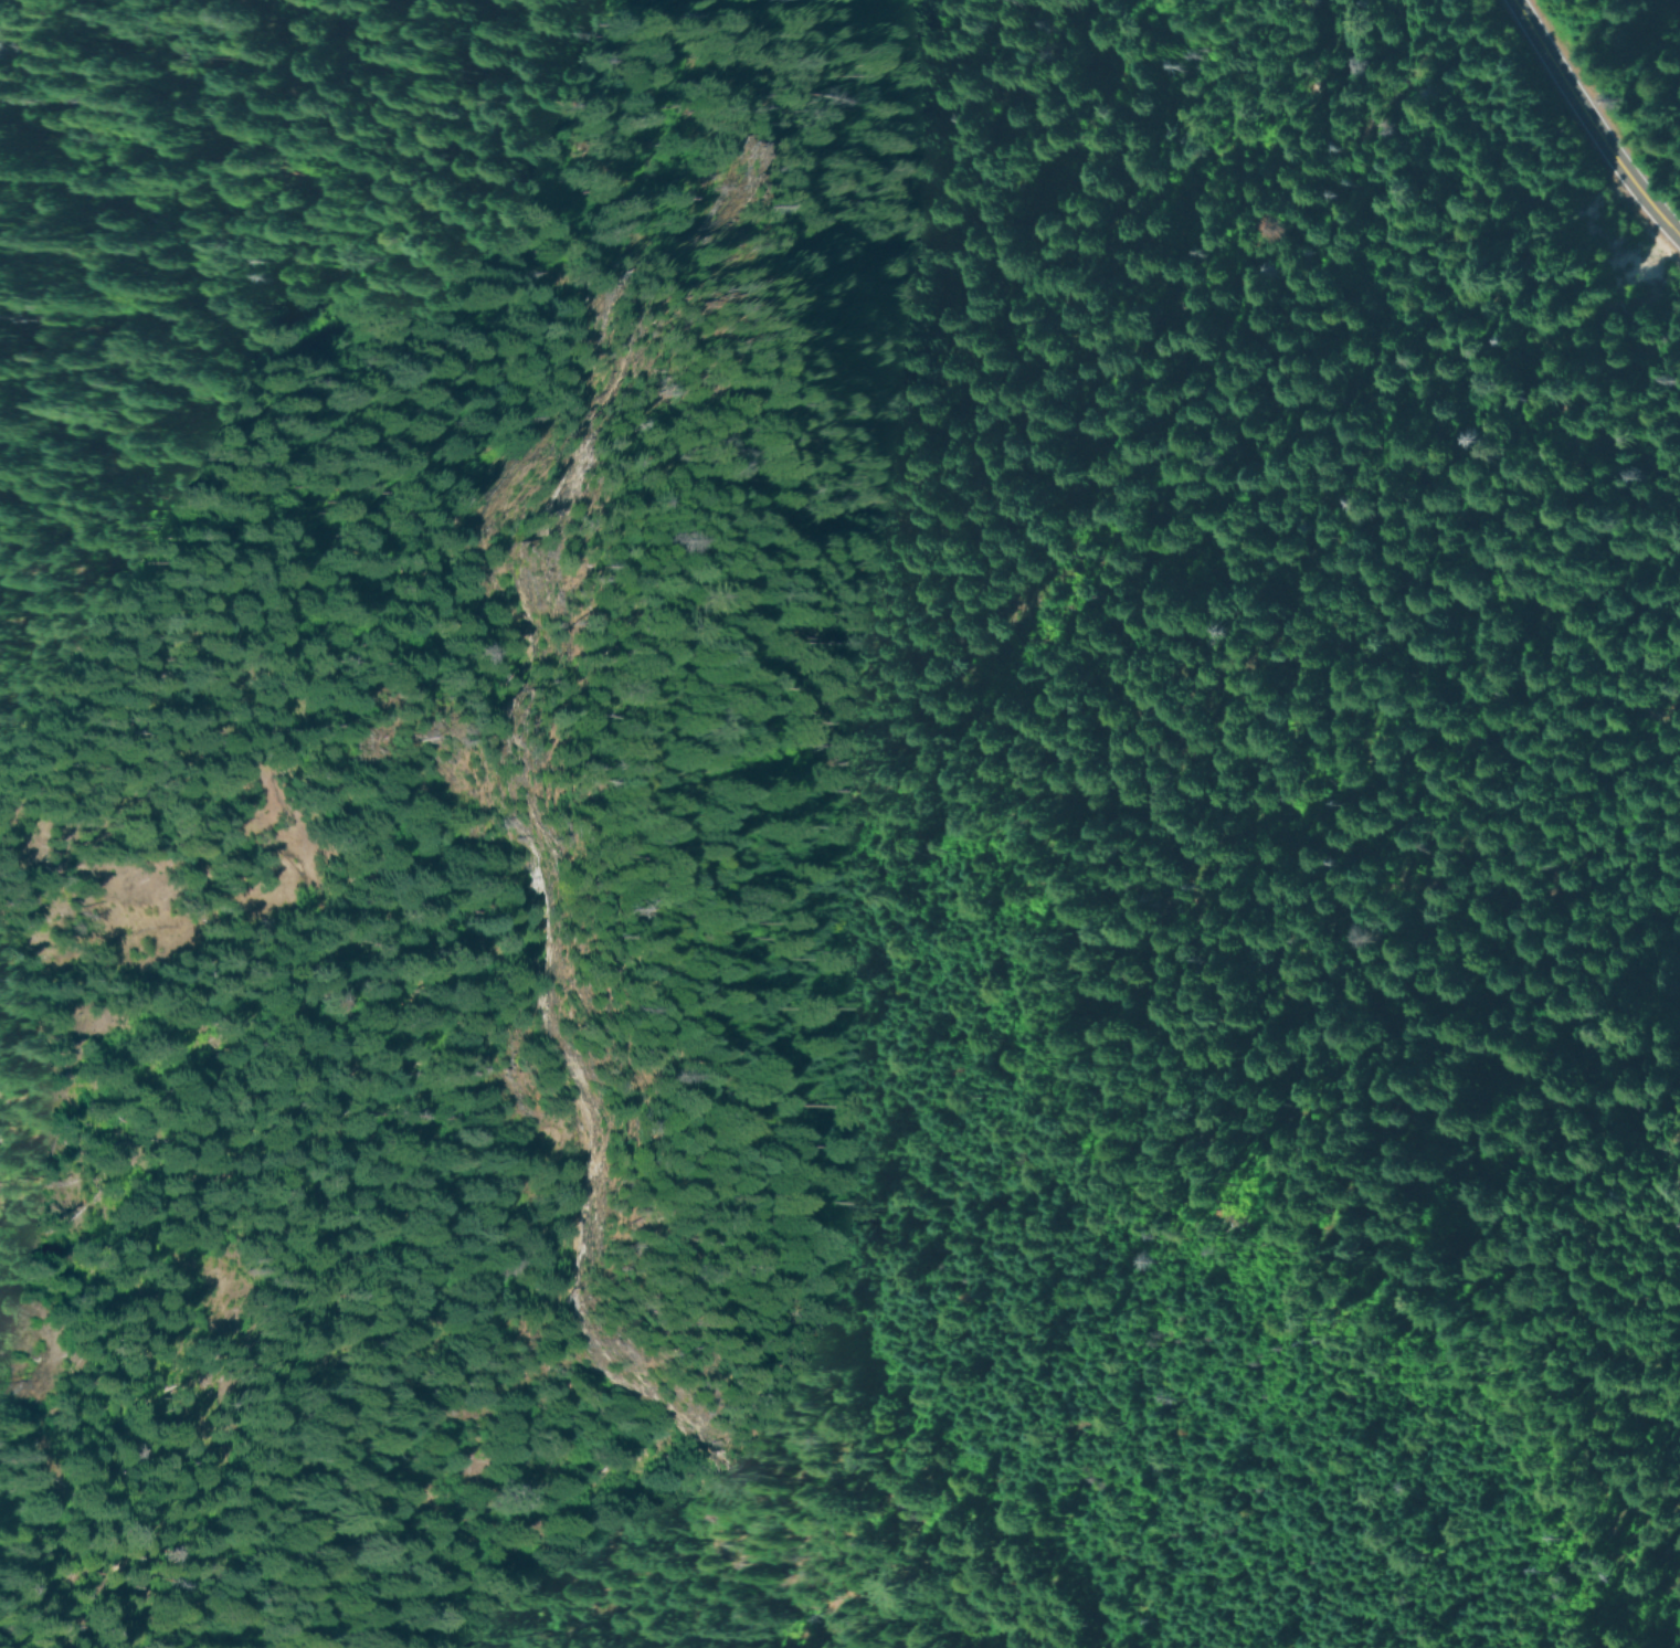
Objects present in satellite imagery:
river: (1672, 10)
road: (1589, 127)

